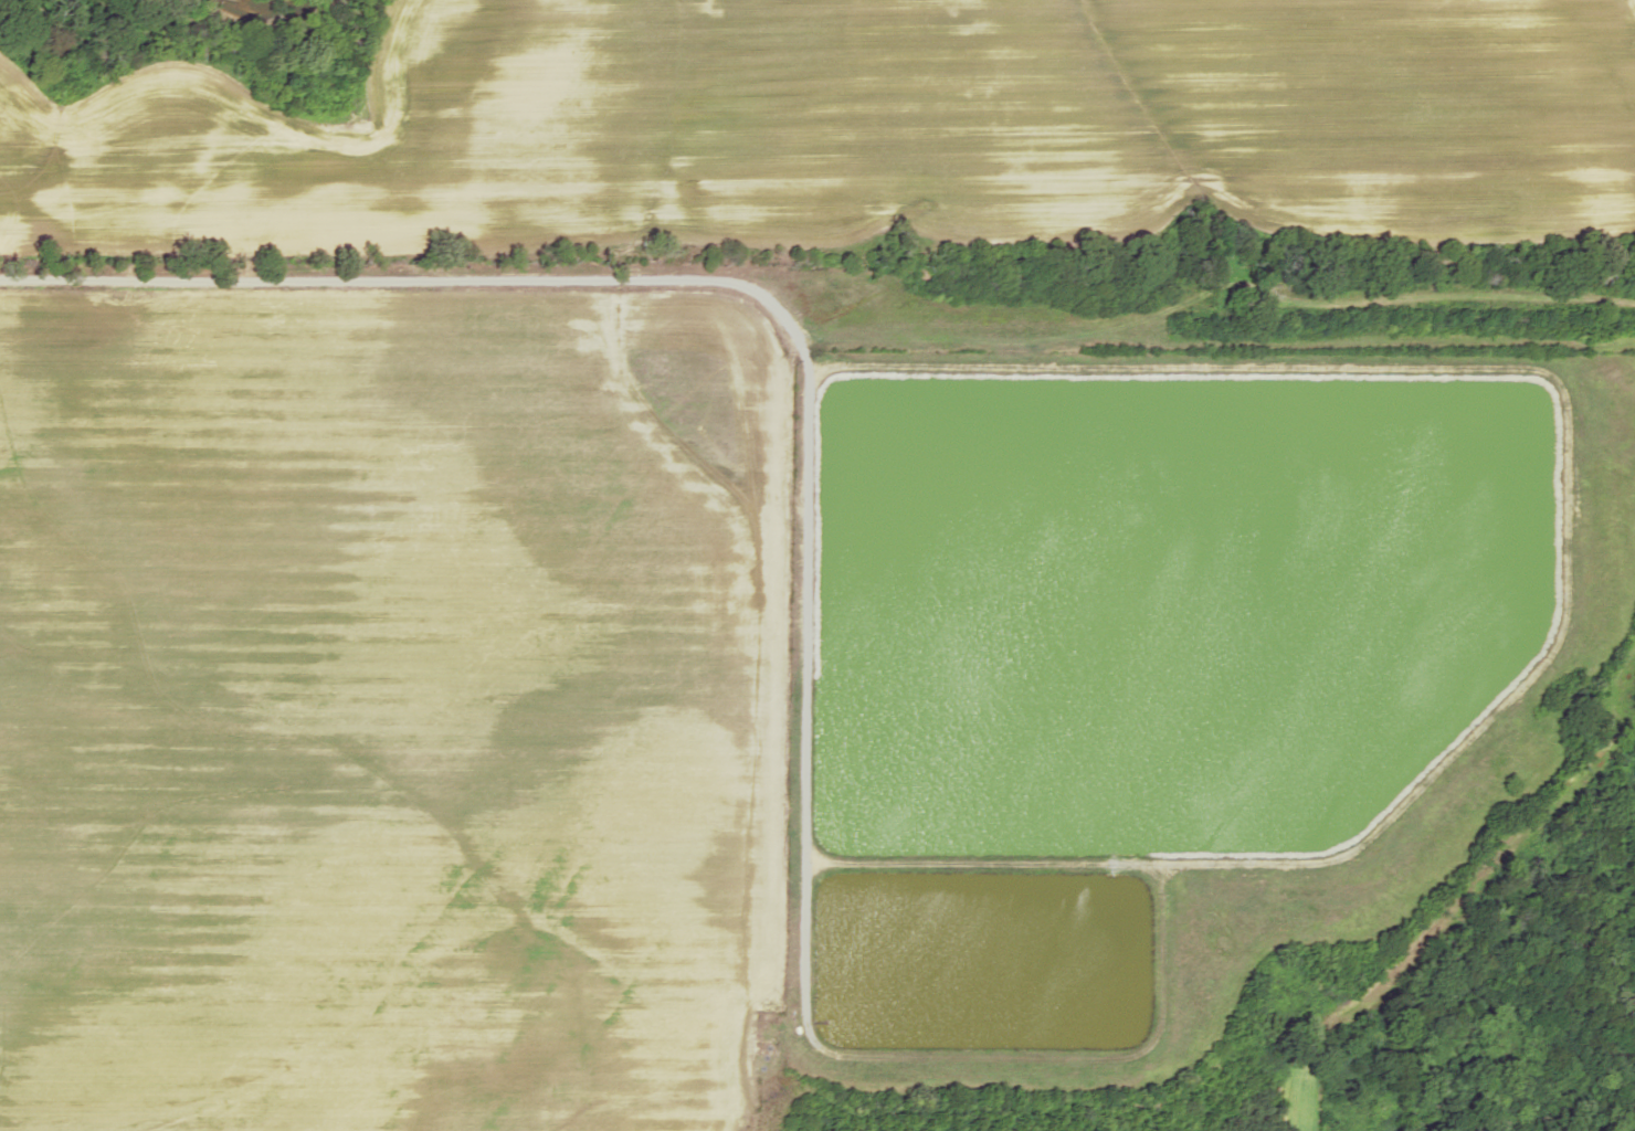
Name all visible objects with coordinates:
road: (745, 290)

